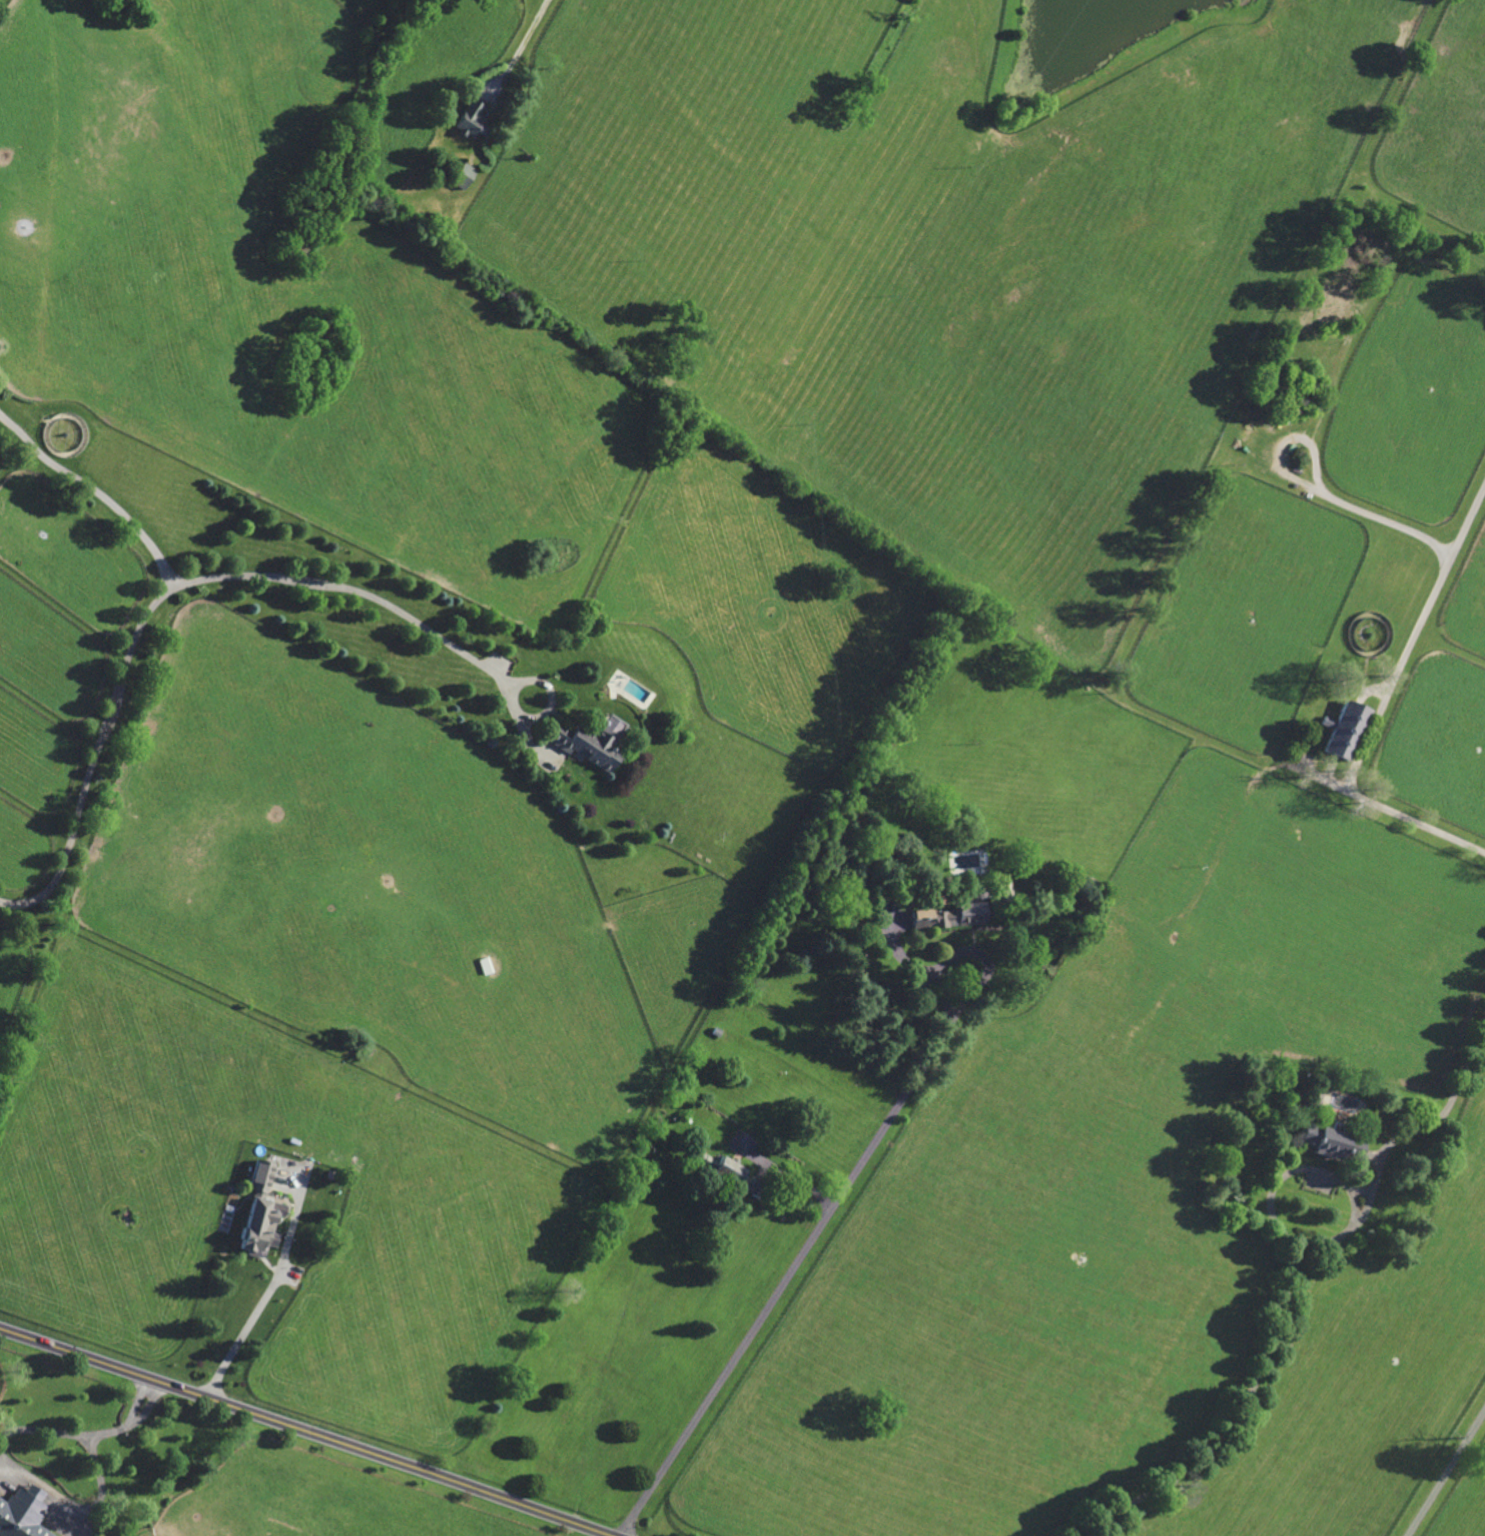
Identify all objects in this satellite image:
road: (520, 42)
building: (469, 118)
building: (358, 126)
building: (460, 175)
building: (298, 223)
building: (1329, 316)
road: (1315, 489)
road: (367, 596)
road: (134, 639)
road: (1382, 701)
building: (1342, 728)
building: (584, 743)
building: (1091, 883)
building: (998, 894)
building: (948, 915)
road: (970, 949)
building: (484, 965)
building: (1314, 1095)
road: (1431, 1120)
building: (1330, 1142)
road: (1322, 1170)
building: (729, 1171)
road: (1365, 1206)
building: (255, 1231)
road: (784, 1280)
road: (266, 1292)
road: (1226, 1429)
road: (308, 1432)
road: (87, 1433)
road: (1445, 1472)
building: (22, 1513)

